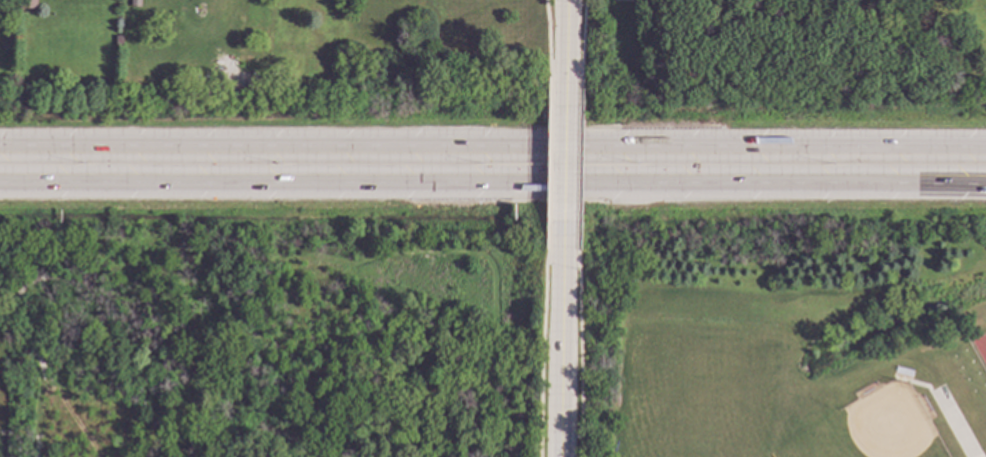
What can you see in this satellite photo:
building: (894, 2)
building: (27, 3)
building: (136, 3)
building: (758, 15)
building: (847, 30)
building: (119, 41)
road: (566, 52)
road: (493, 153)
street lamp: (84, 165)
street lamp: (639, 166)
street lamp: (833, 166)
street lamp: (480, 167)
street lamp: (280, 168)
road: (565, 173)
road: (493, 184)
road: (269, 269)
track: (982, 342)
road: (561, 349)
road: (270, 355)
park: (694, 397)
park: (870, 429)
road: (254, 449)

